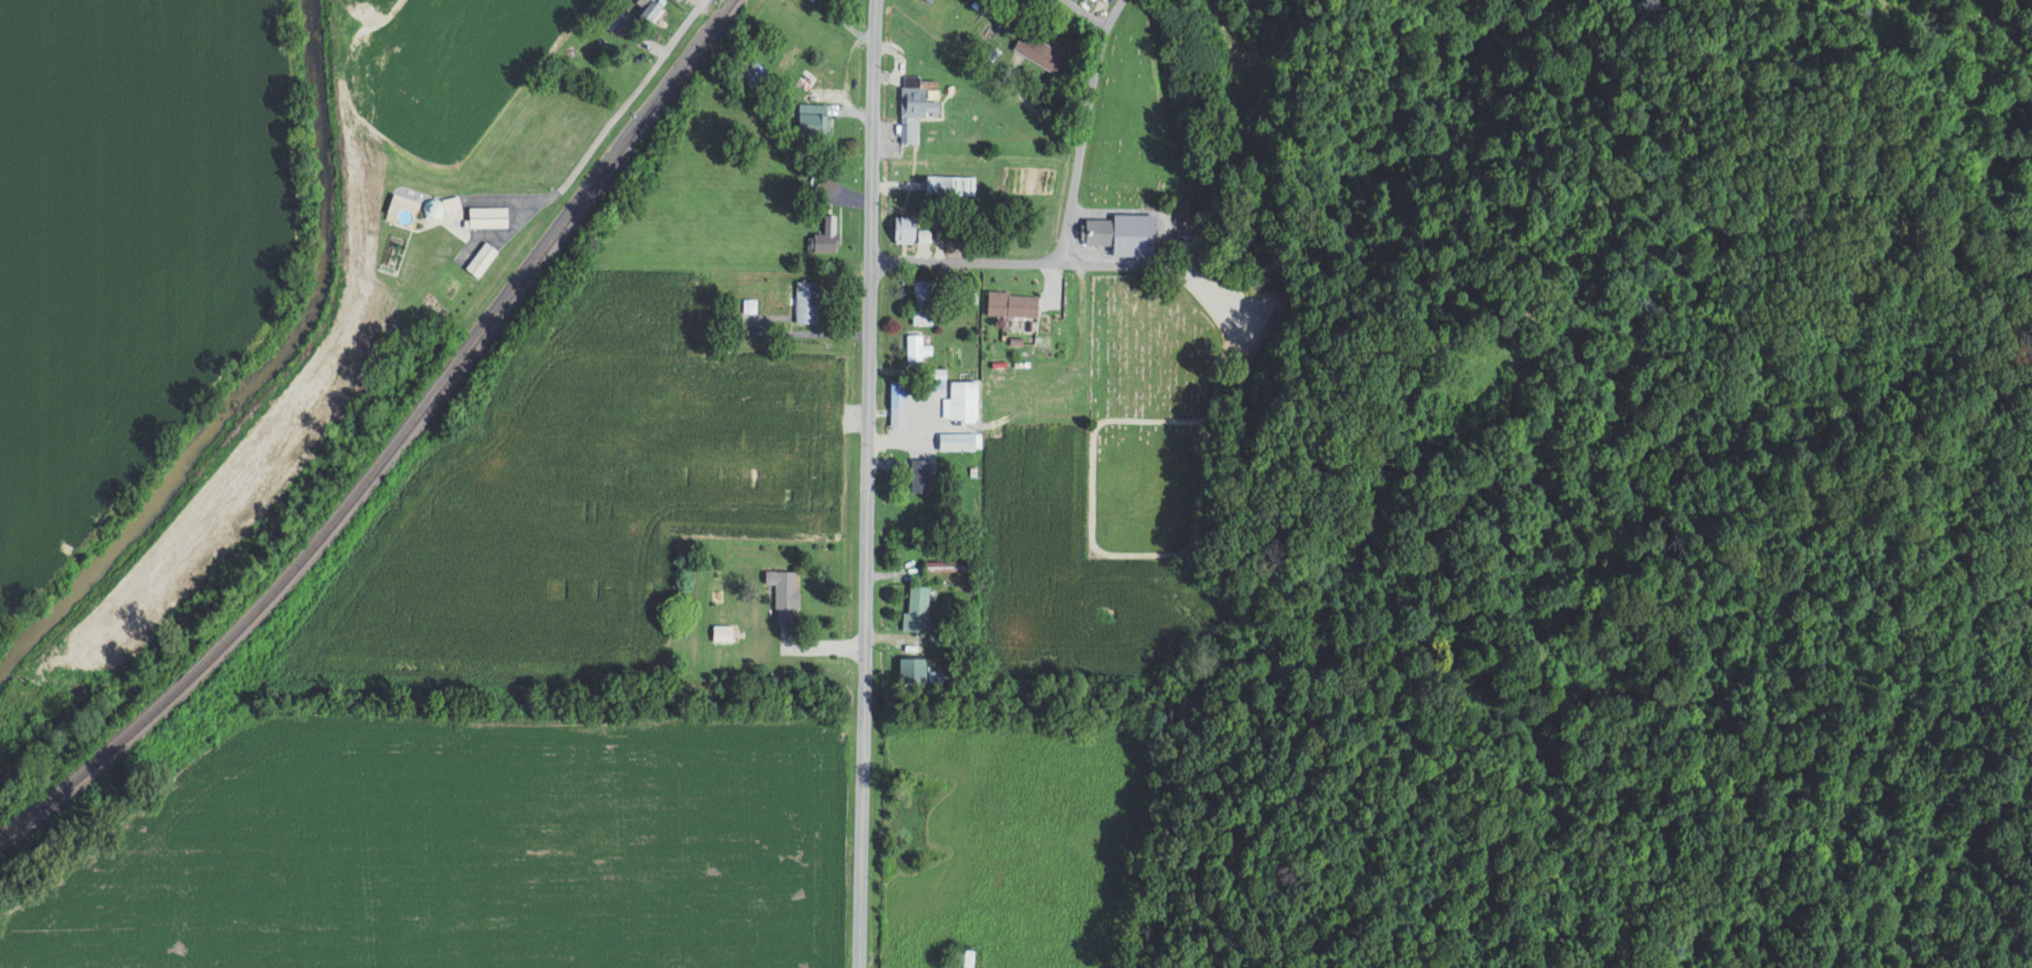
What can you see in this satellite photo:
building: (813, 0)
building: (985, 3)
building: (648, 8)
road: (1085, 13)
building: (988, 29)
building: (1039, 50)
building: (756, 70)
building: (806, 78)
building: (914, 106)
building: (813, 117)
park: (1136, 119)
road: (1083, 127)
road: (872, 131)
road: (592, 146)
building: (826, 184)
building: (950, 184)
park: (1604, 198)
building: (451, 203)
building: (488, 216)
building: (904, 227)
building: (1123, 232)
building: (826, 235)
building: (481, 258)
road: (1070, 260)
building: (807, 301)
building: (923, 301)
building: (750, 305)
building: (1012, 305)
building: (918, 346)
park: (1487, 356)
building: (933, 381)
building: (962, 400)
building: (898, 402)
park: (1150, 419)
building: (960, 440)
railway: (394, 446)
building: (920, 475)
building: (942, 566)
building: (785, 594)
building: (917, 609)
road: (866, 615)
building: (722, 632)
building: (1160, 643)
road: (809, 644)
building: (912, 669)
building: (962, 958)

